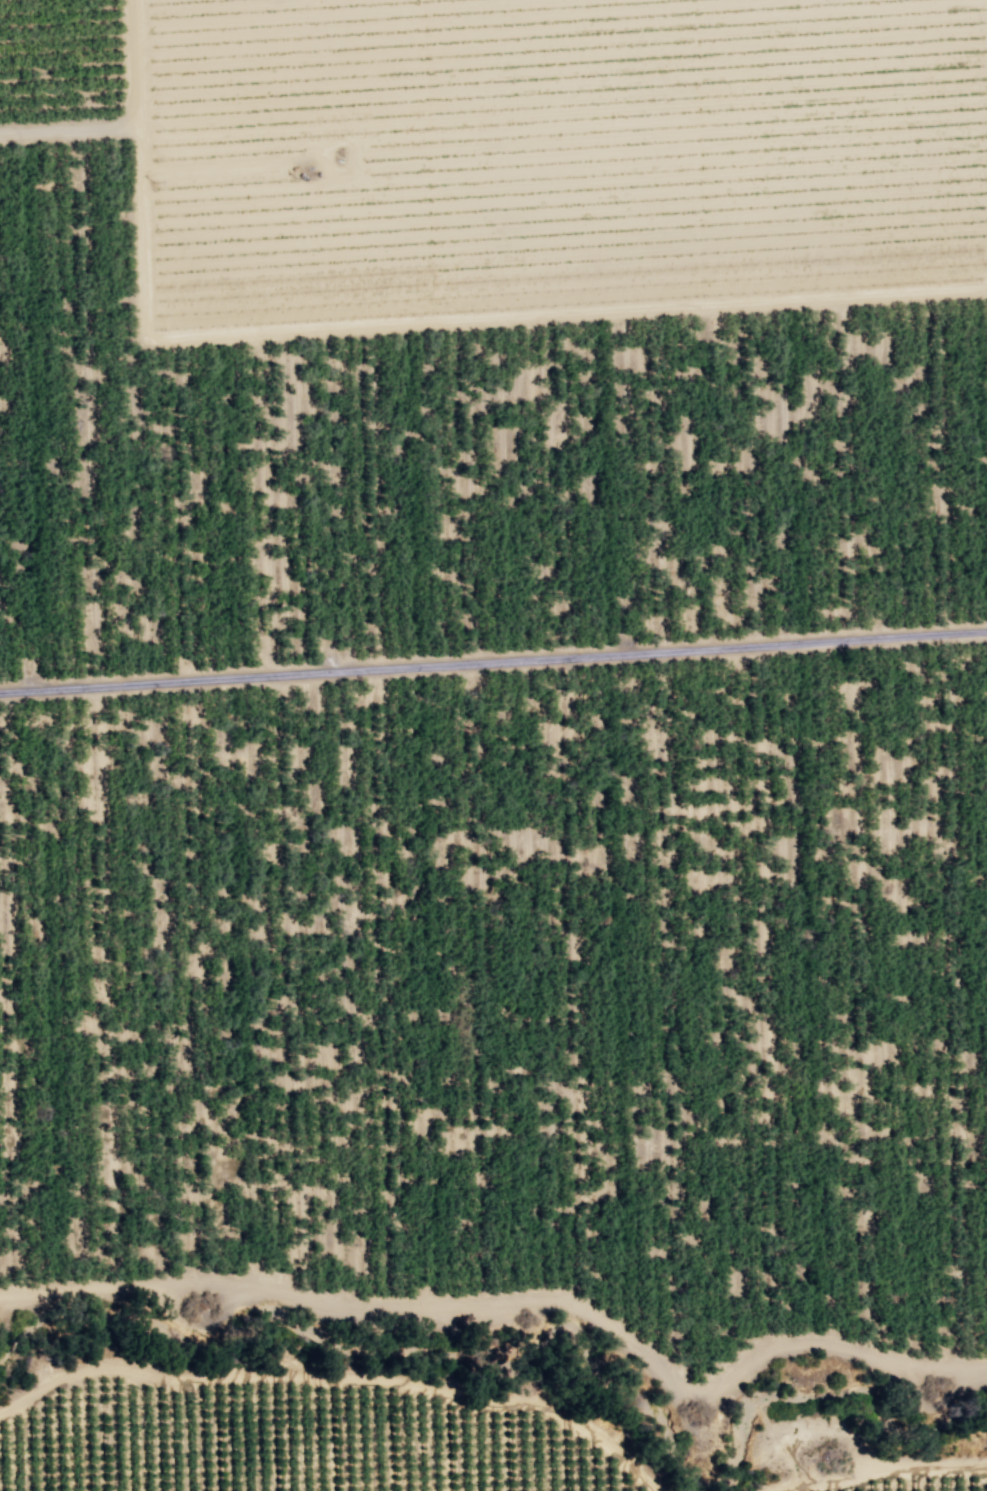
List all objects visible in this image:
road: (127, 124)
road: (275, 127)
road: (454, 323)
road: (493, 664)
road: (514, 1300)
road: (339, 1379)
road: (769, 1428)
road: (882, 1468)
road: (984, 1470)

